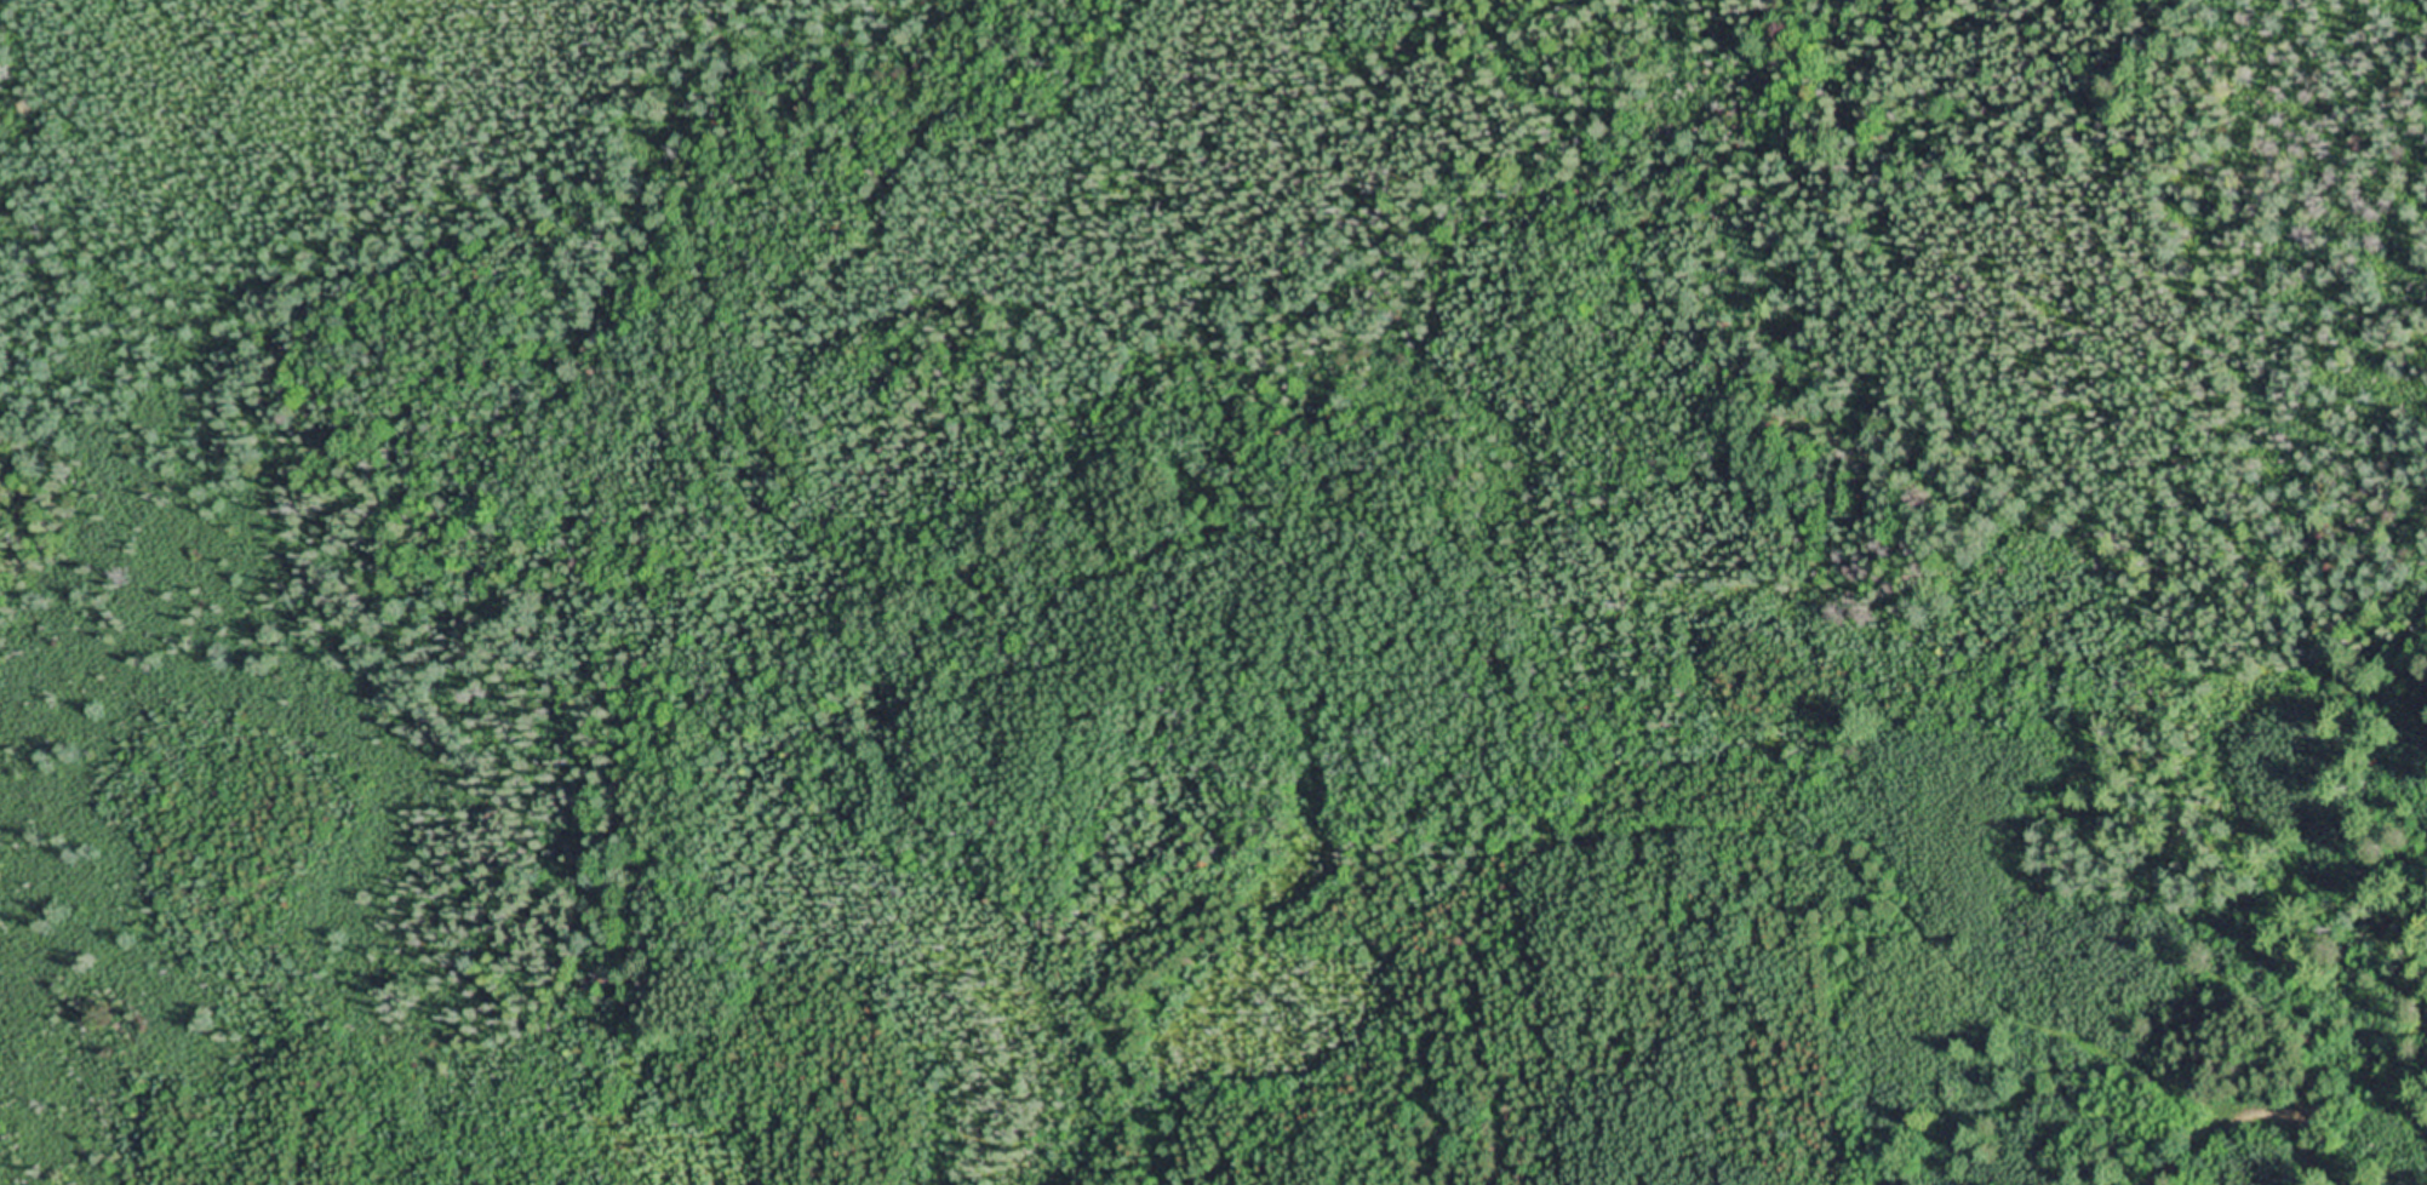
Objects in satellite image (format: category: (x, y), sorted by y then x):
road: (2260, 1134)

